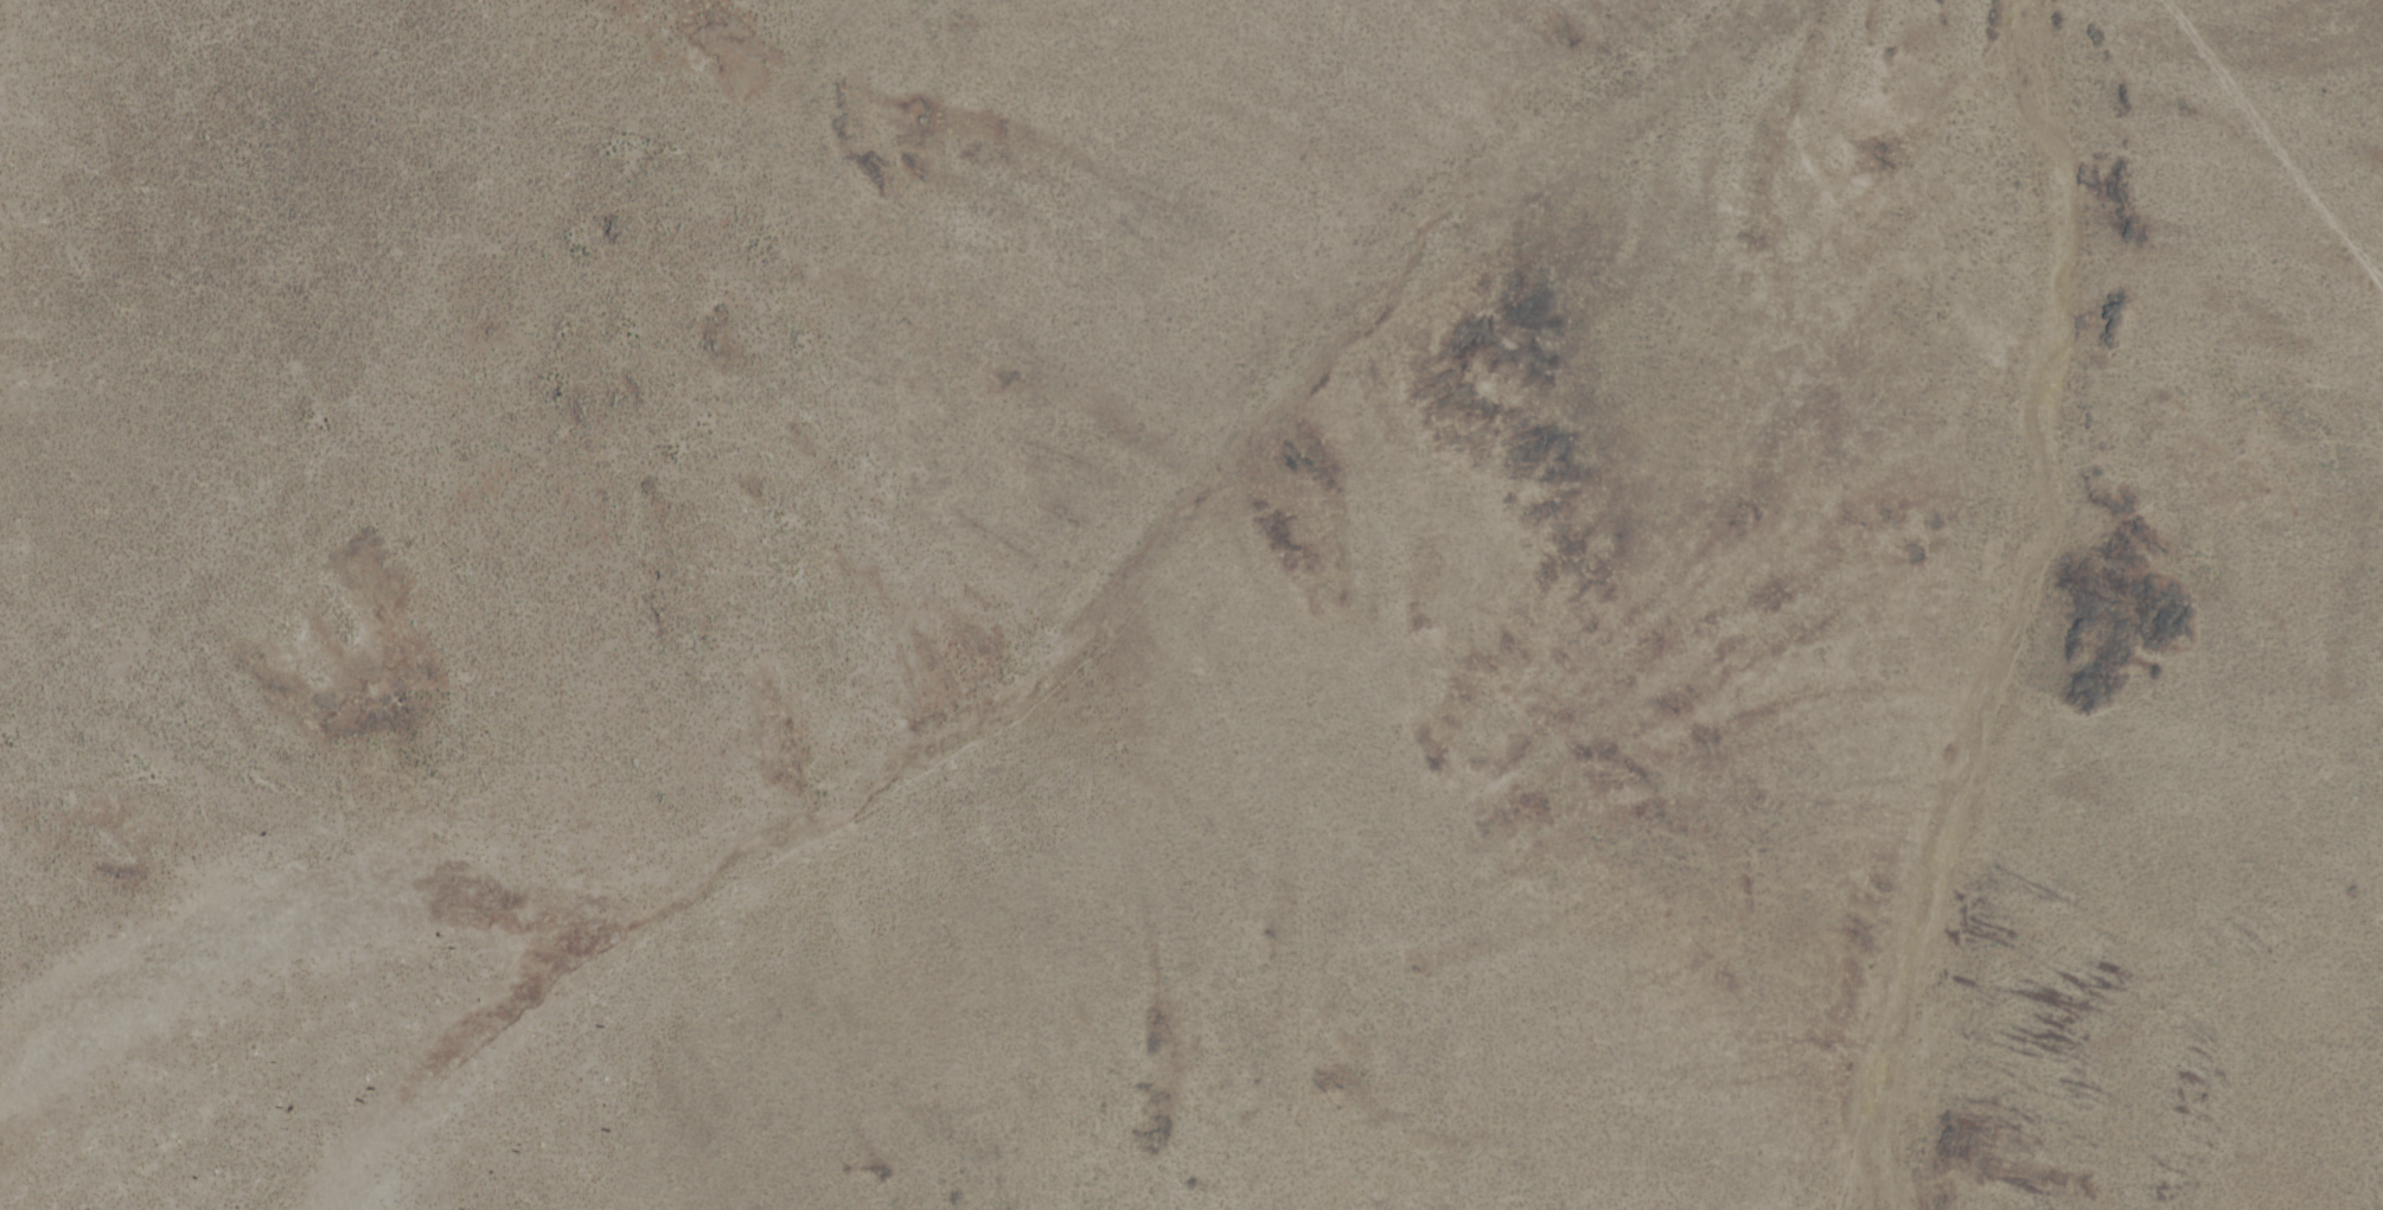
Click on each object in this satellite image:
road: (2276, 143)

